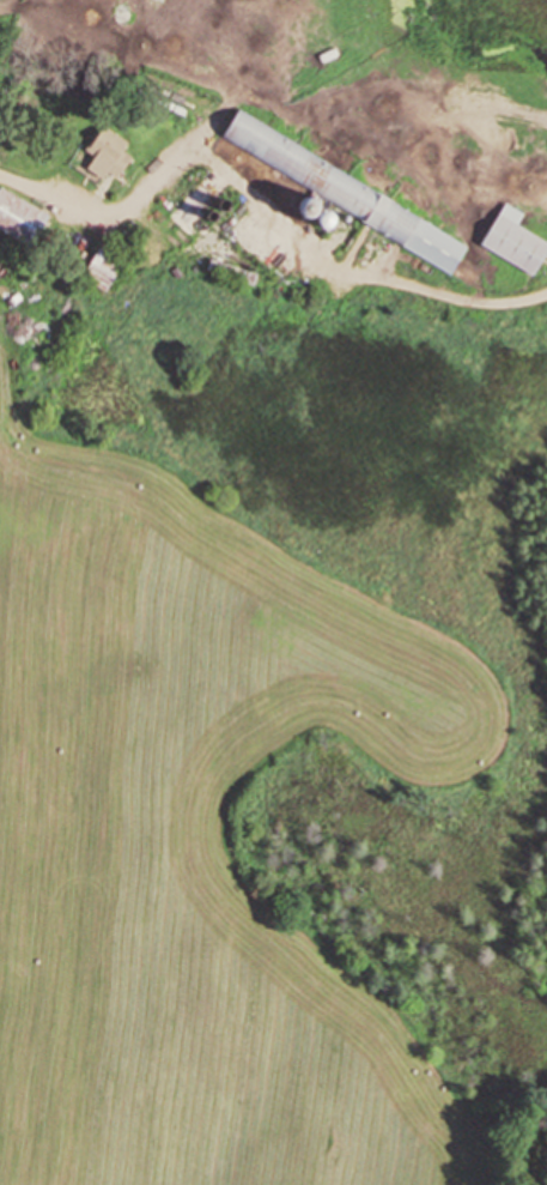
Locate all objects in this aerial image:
building: (104, 144)
building: (341, 194)
building: (18, 218)
building: (513, 238)
building: (101, 267)
building: (231, 270)

